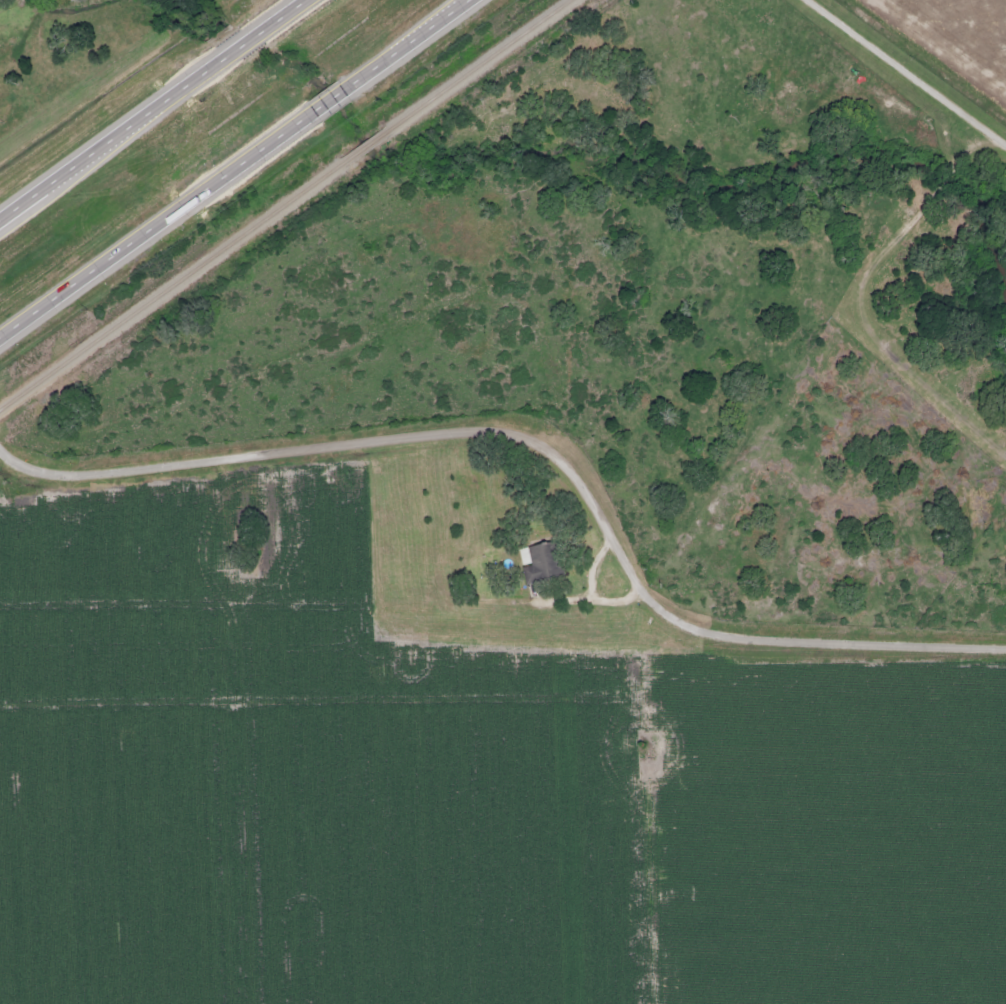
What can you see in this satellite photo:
road: (279, 19)
road: (410, 43)
road: (235, 51)
railway: (479, 65)
road: (909, 71)
road: (332, 99)
road: (108, 143)
railway: (369, 145)
road: (157, 223)
railway: (174, 284)
road: (544, 439)
building: (539, 562)

